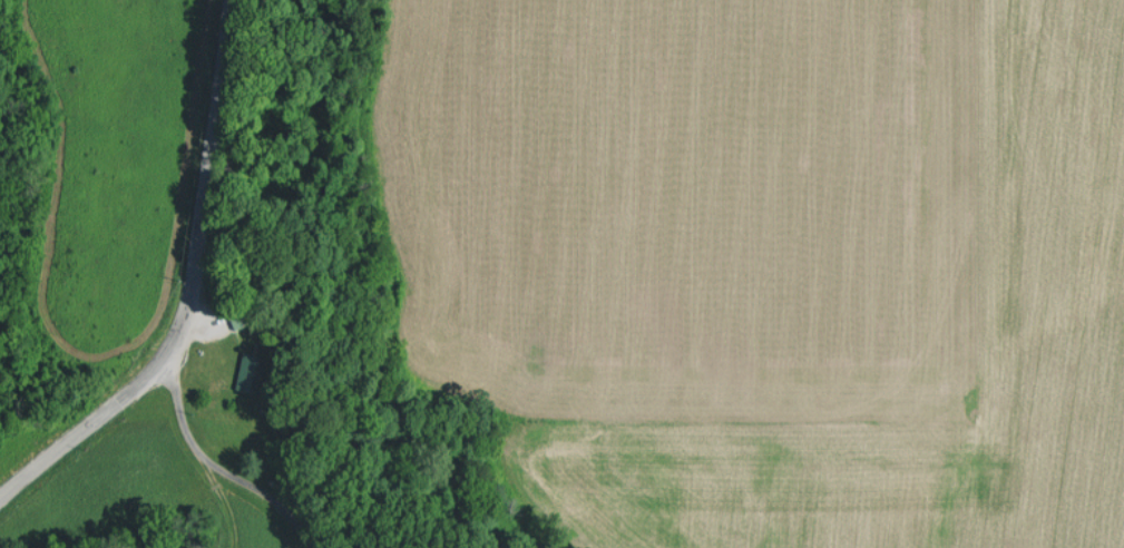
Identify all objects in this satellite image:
road: (192, 291)
building: (250, 370)
road: (198, 453)
road: (263, 493)

